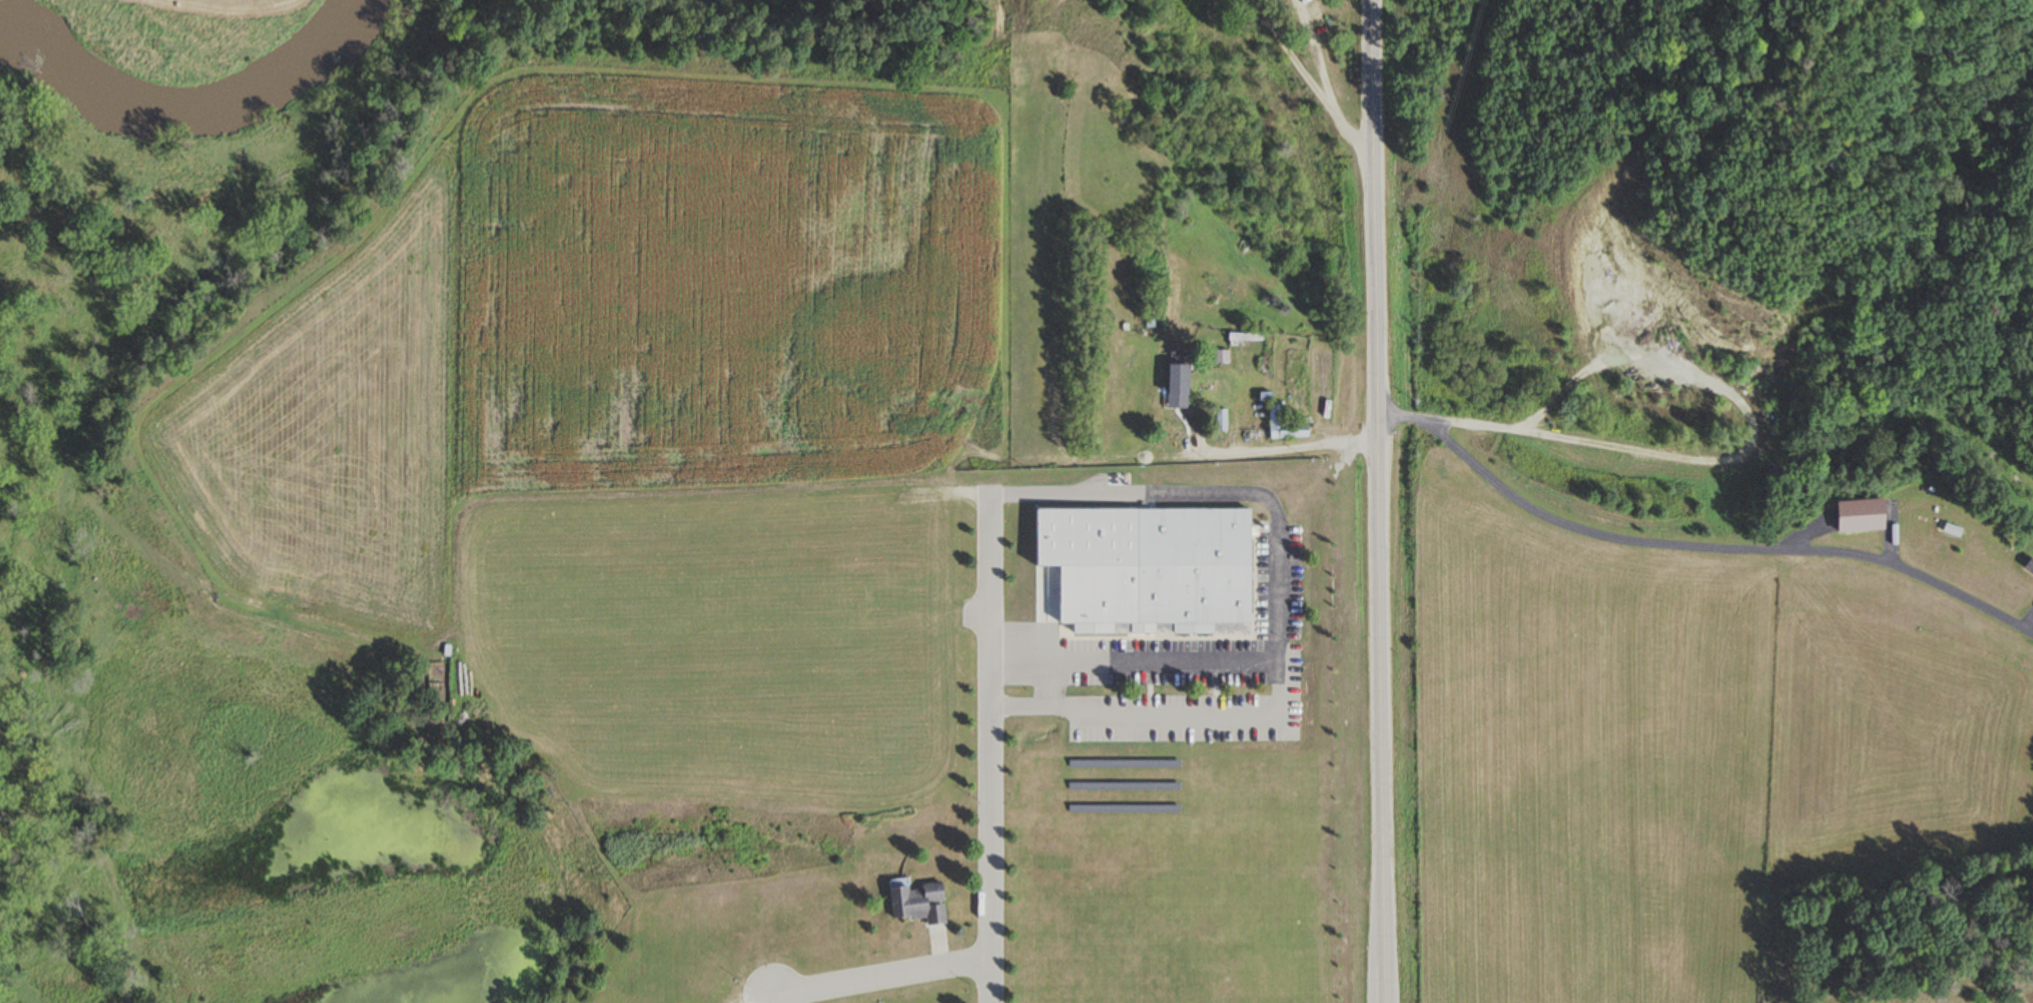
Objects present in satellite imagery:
road: (1318, 60)
road: (1310, 87)
river: (189, 107)
crop: (625, 286)
building: (1220, 357)
building: (1241, 361)
building: (1175, 380)
building: (1296, 384)
building: (983, 408)
building: (909, 413)
building: (877, 419)
building: (1274, 419)
building: (1218, 421)
road: (1238, 496)
road: (1380, 501)
building: (1947, 531)
road: (1696, 546)
building: (2028, 568)
building: (1190, 570)
road: (1048, 619)
road: (989, 748)
building: (914, 902)
road: (882, 978)

